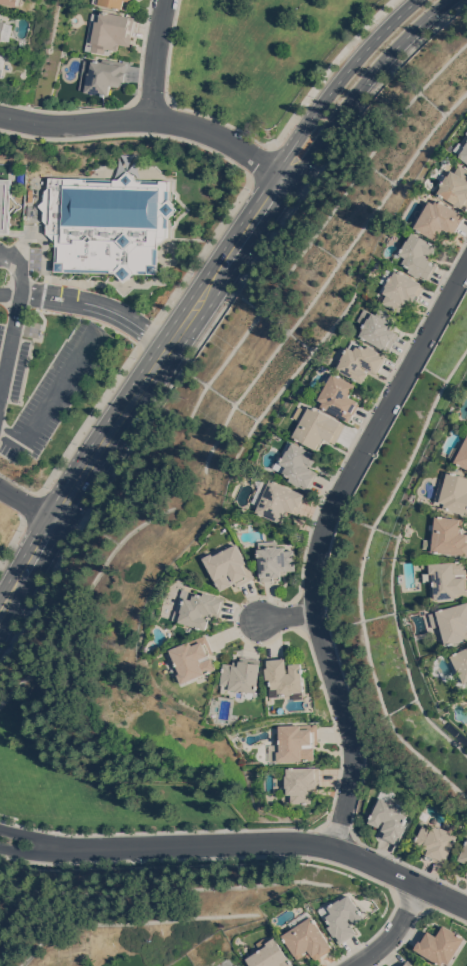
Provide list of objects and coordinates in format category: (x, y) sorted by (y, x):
building: (128, 0)
building: (13, 2)
building: (110, 3)
building: (5, 30)
building: (109, 31)
park: (255, 54)
road: (154, 58)
building: (2, 64)
building: (100, 75)
road: (338, 79)
road: (361, 83)
road: (153, 117)
road: (130, 133)
road: (261, 142)
building: (462, 150)
building: (437, 153)
building: (446, 160)
road: (261, 163)
building: (456, 186)
building: (5, 204)
building: (439, 219)
building: (107, 223)
road: (261, 225)
building: (418, 256)
road: (19, 277)
building: (401, 288)
road: (94, 302)
road: (80, 314)
road: (217, 314)
road: (99, 327)
building: (380, 327)
road: (143, 334)
road: (10, 339)
road: (159, 341)
road: (169, 344)
building: (362, 361)
building: (339, 395)
road: (52, 396)
road: (145, 396)
building: (317, 426)
building: (461, 454)
building: (298, 465)
building: (452, 492)
building: (277, 499)
road: (31, 505)
road: (32, 506)
building: (449, 535)
road: (12, 540)
road: (319, 541)
road: (48, 552)
road: (23, 553)
building: (274, 560)
building: (229, 567)
building: (447, 579)
road: (16, 604)
building: (198, 607)
road: (287, 616)
building: (451, 622)
building: (194, 658)
building: (461, 662)
building: (285, 676)
building: (241, 677)
building: (295, 742)
building: (303, 783)
building: (388, 817)
road: (167, 831)
road: (36, 837)
road: (276, 841)
building: (436, 843)
road: (36, 853)
building: (464, 854)
road: (210, 857)
building: (466, 873)
building: (466, 876)
building: (343, 917)
road: (394, 932)
building: (307, 937)
building: (440, 944)
building: (271, 955)
building: (407, 964)
building: (238, 965)
building: (414, 965)

